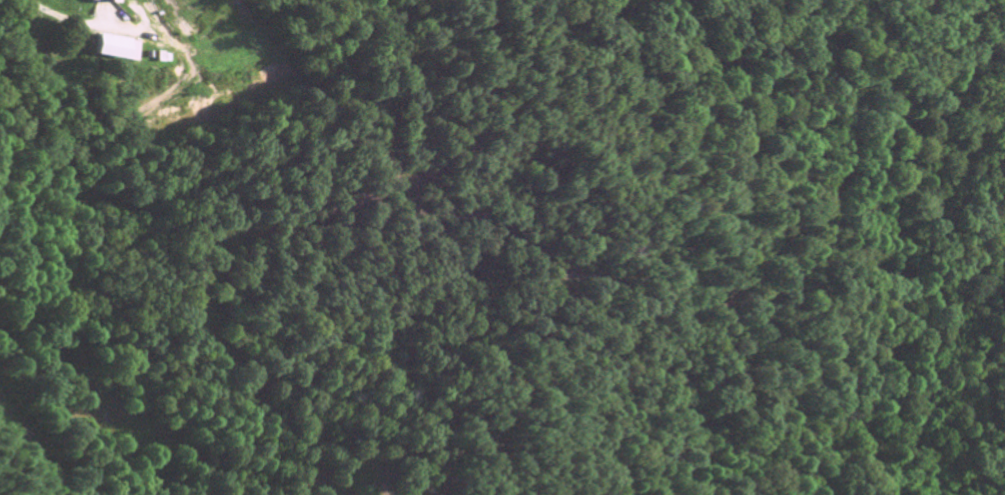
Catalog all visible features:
building: (110, 2)
road: (61, 21)
building: (120, 50)

